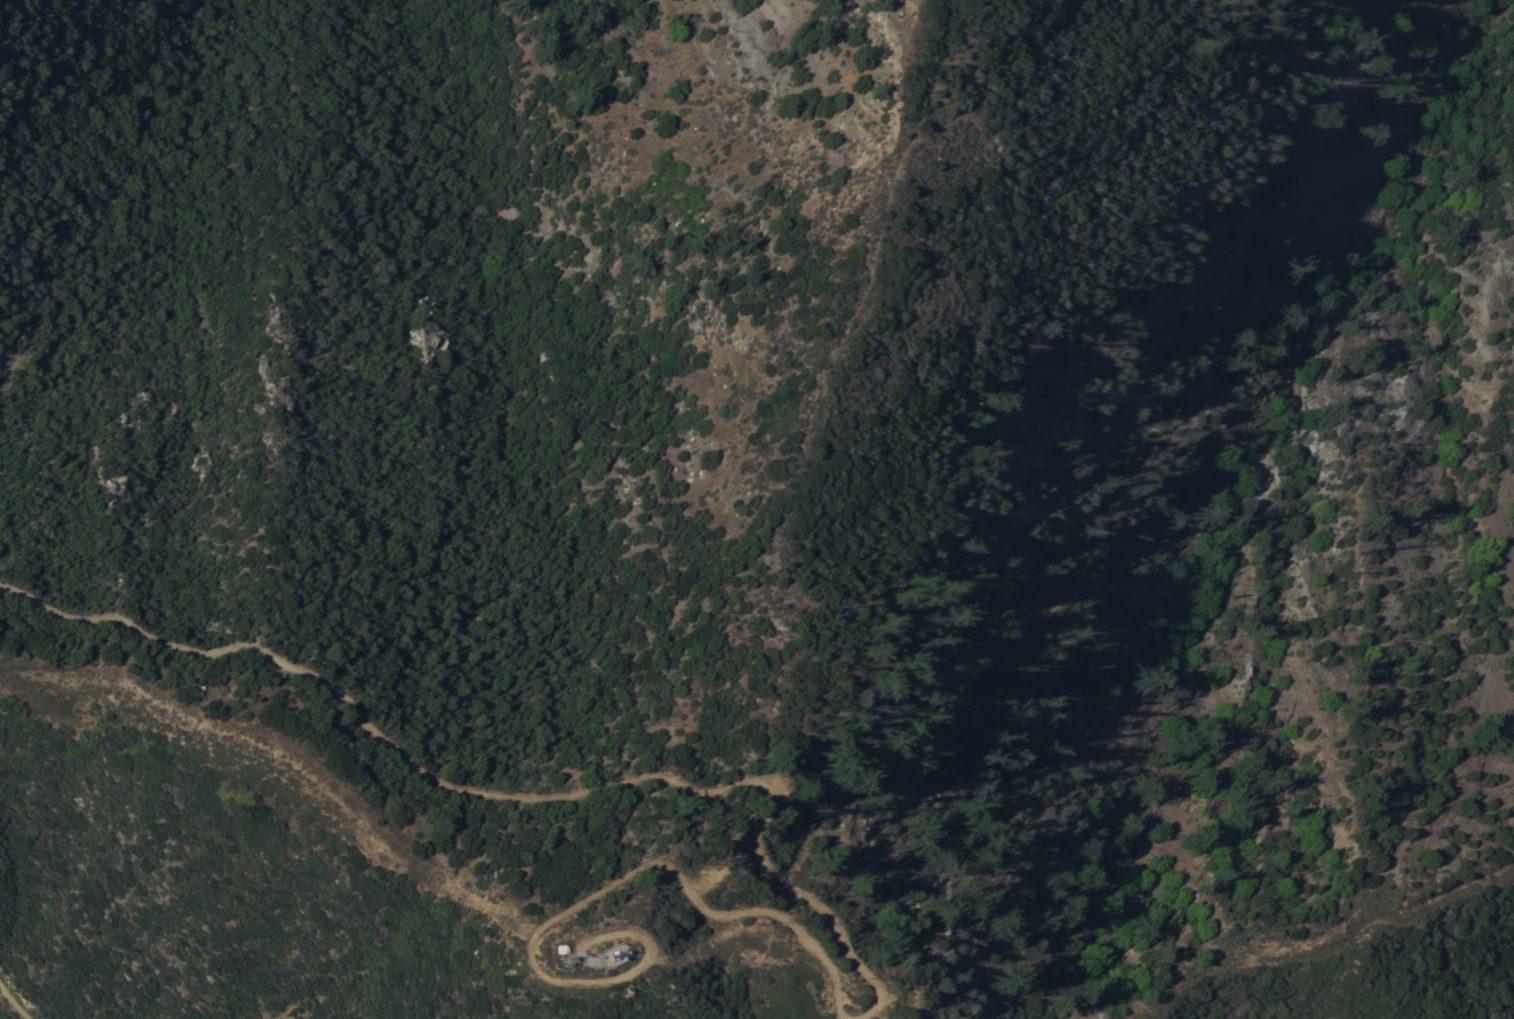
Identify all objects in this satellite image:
road: (290, 761)
road: (490, 796)
road: (599, 906)
road: (1321, 939)
road: (15, 1000)
road: (845, 1018)

